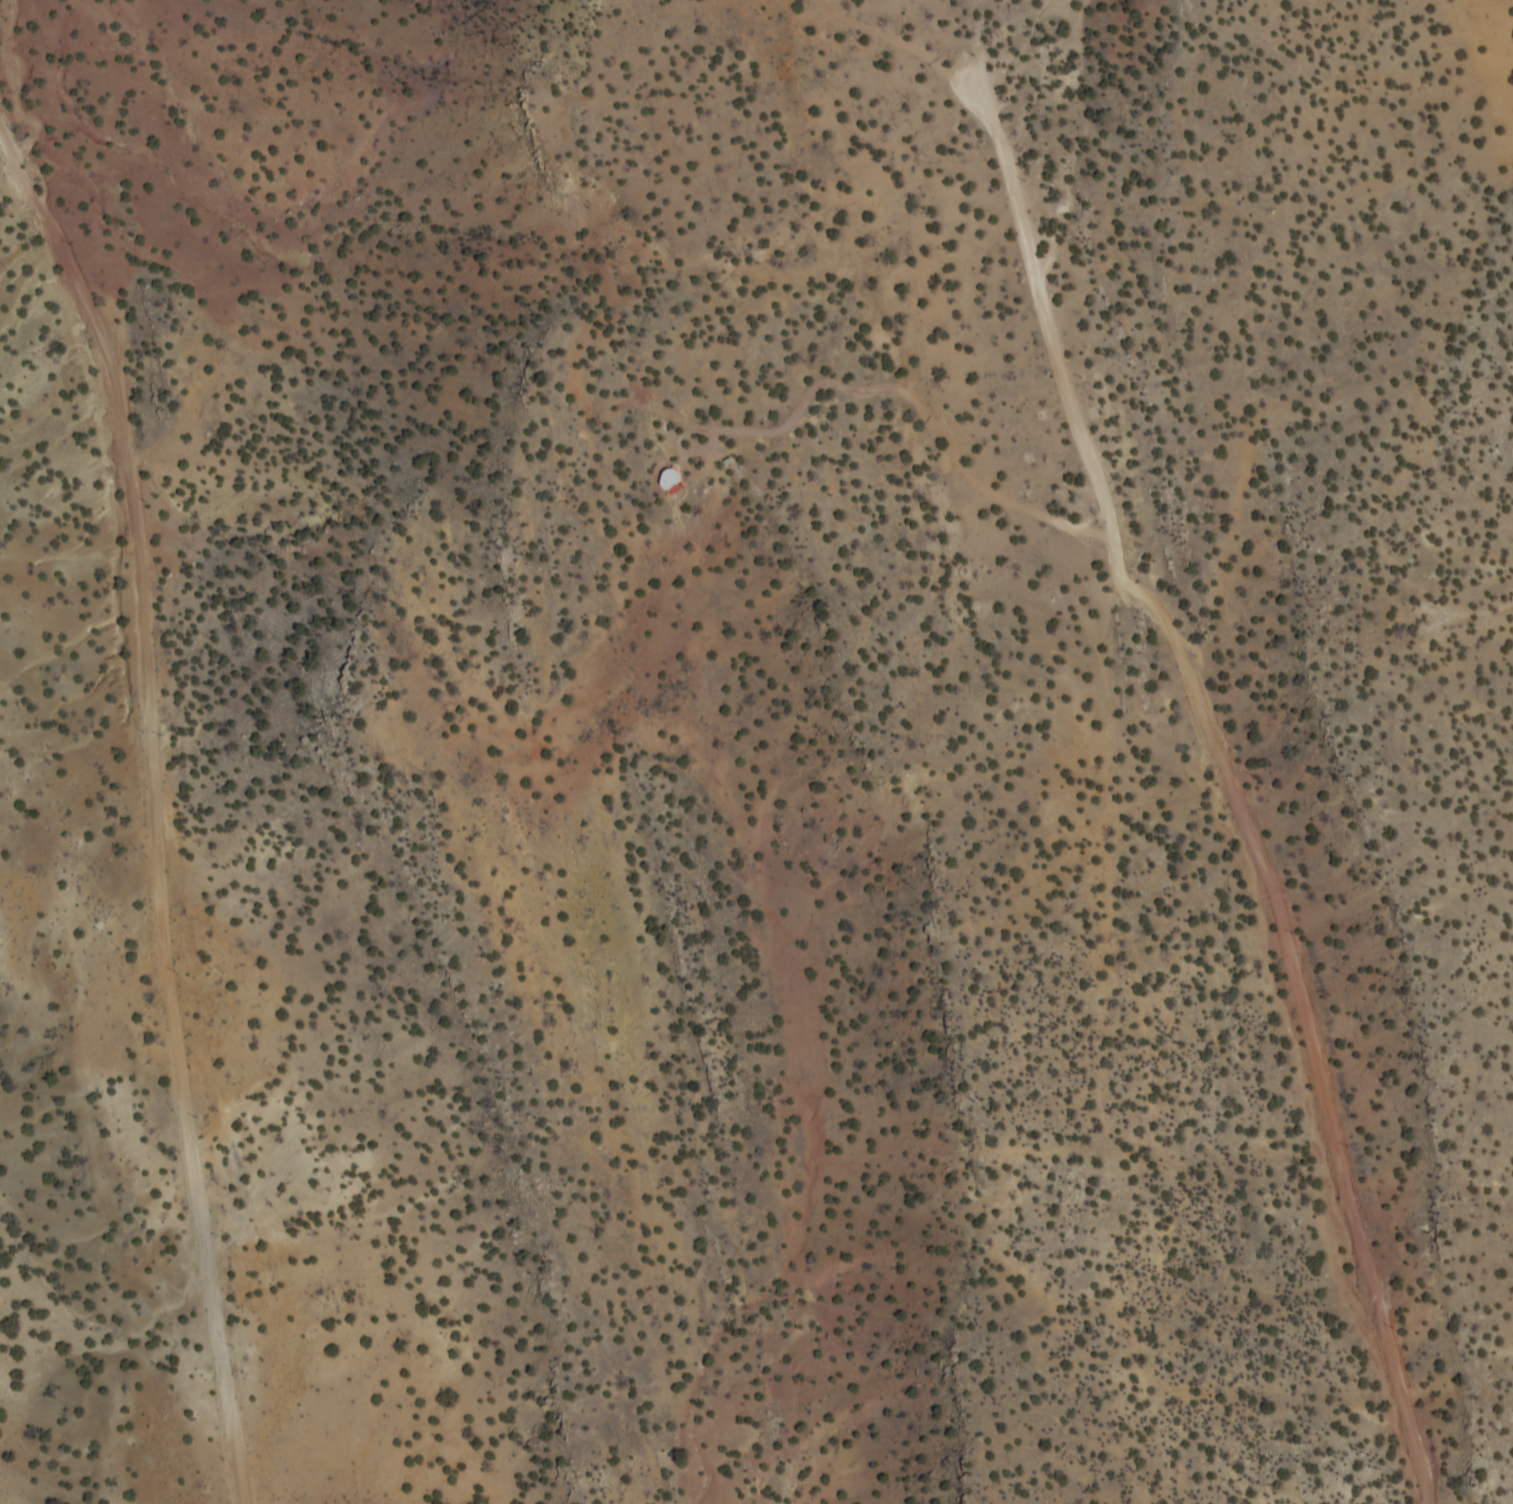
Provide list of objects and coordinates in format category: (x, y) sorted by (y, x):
road: (910, 37)
road: (880, 380)
storage tank: (675, 470)
building: (677, 481)
road: (1240, 782)
road: (160, 795)

